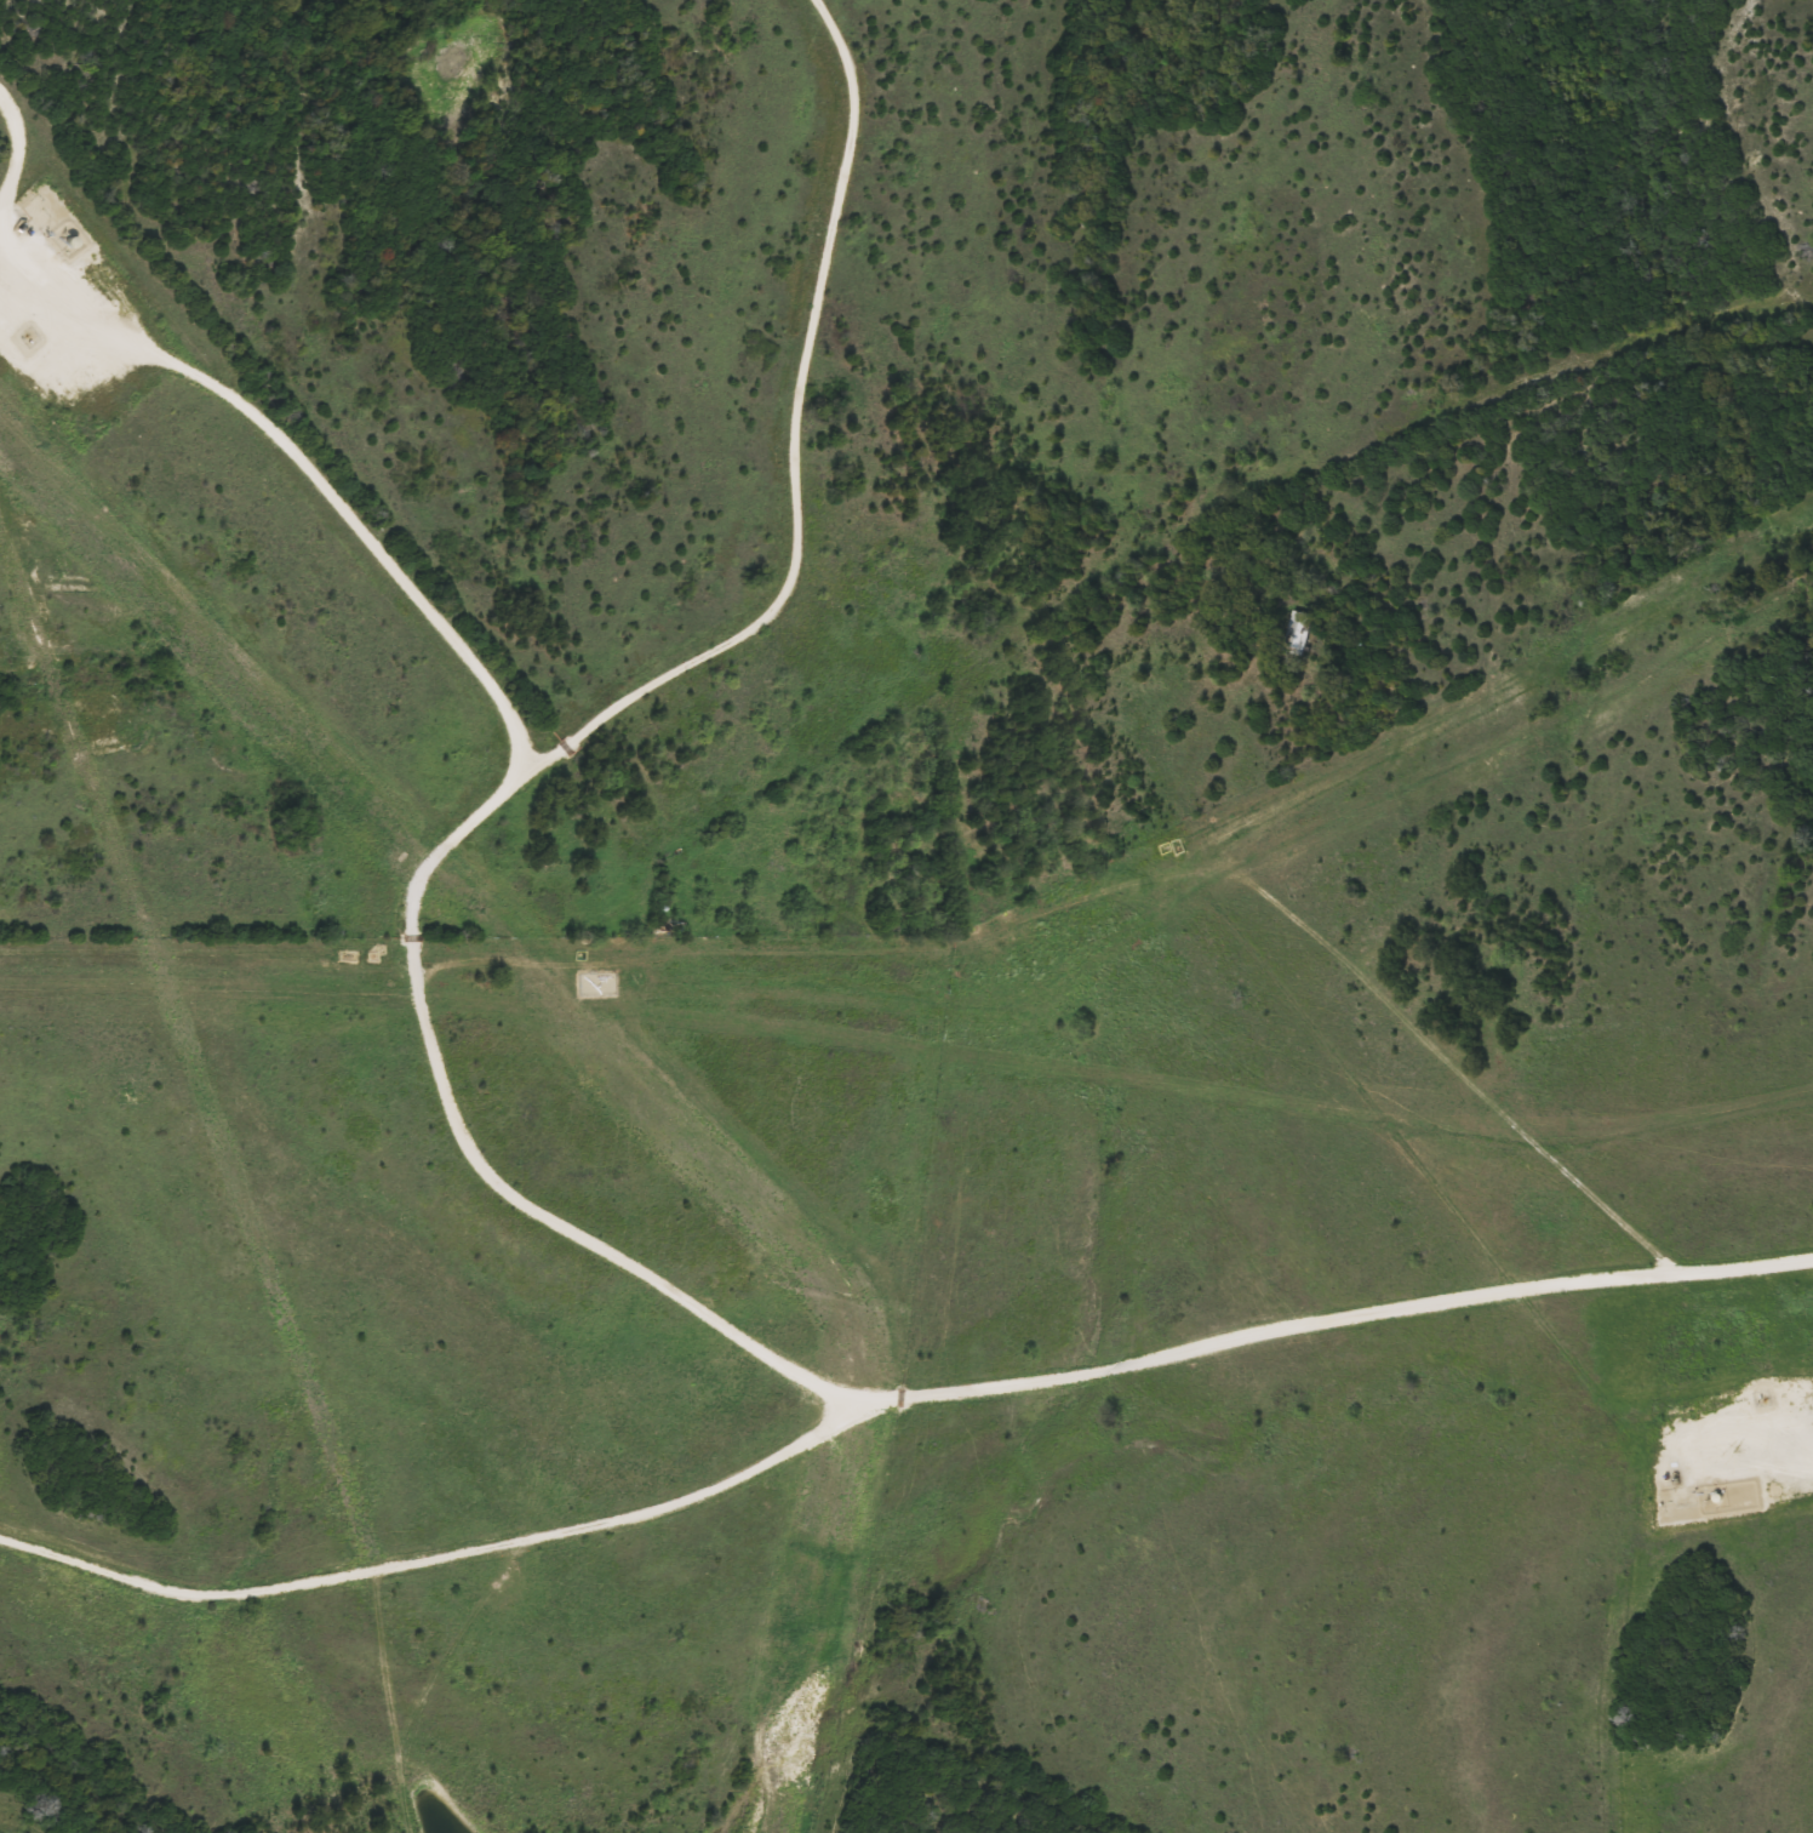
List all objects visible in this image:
road: (251, 407)
building: (1298, 633)
road: (536, 758)
road: (890, 1394)

